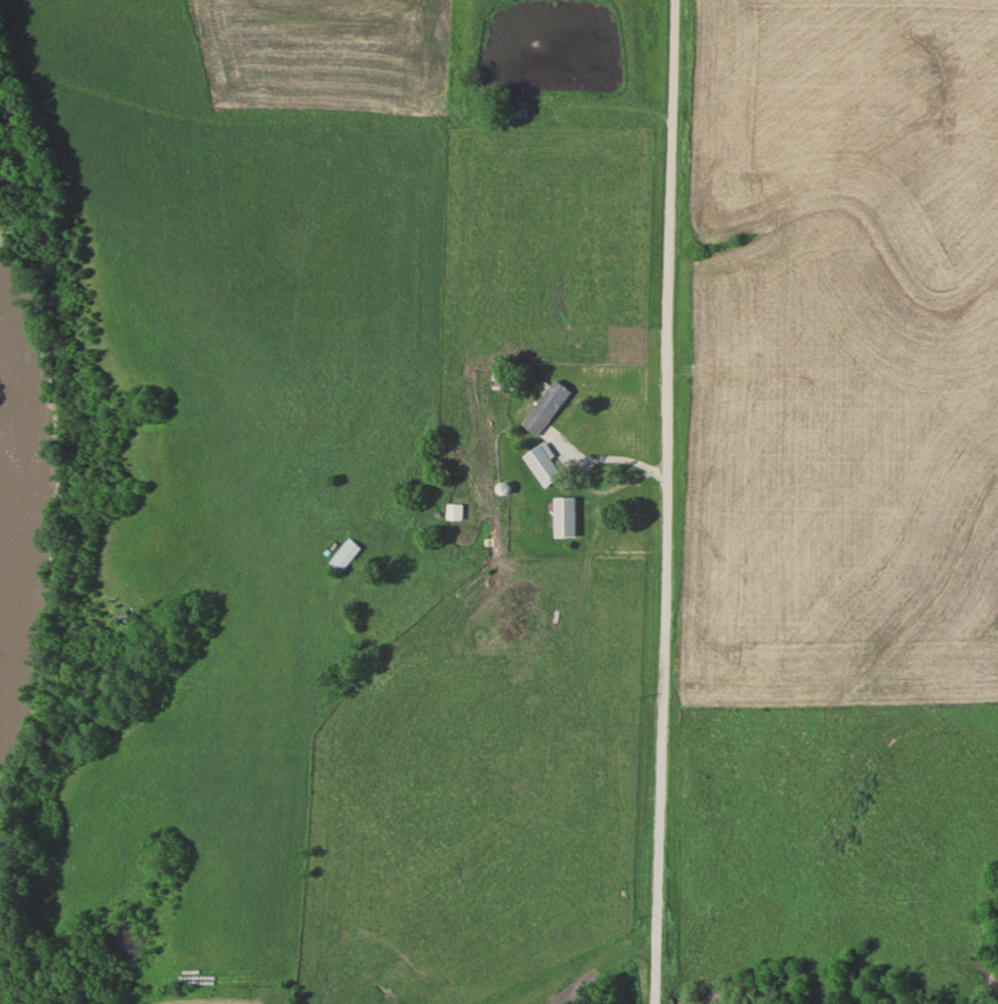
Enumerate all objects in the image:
building: (548, 406)
building: (545, 463)
river: (18, 494)
road: (656, 502)
building: (456, 511)
building: (347, 555)
building: (499, 617)

